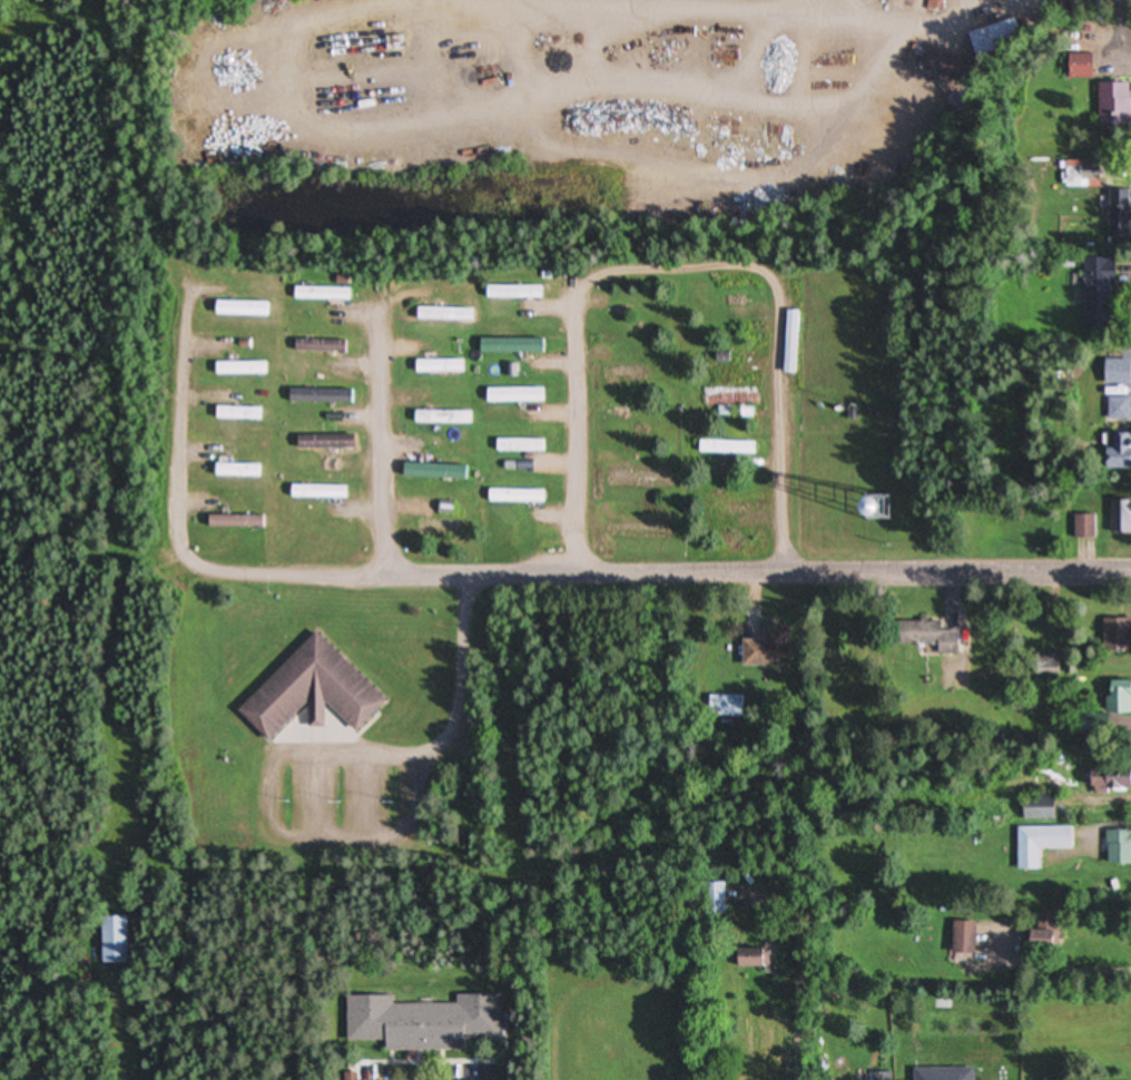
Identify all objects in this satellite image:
building: (993, 35)
building: (1079, 67)
building: (1113, 105)
building: (1083, 173)
road: (680, 273)
building: (1098, 284)
building: (322, 293)
building: (514, 293)
building: (791, 300)
building: (243, 308)
building: (445, 315)
building: (317, 346)
building: (513, 346)
building: (439, 366)
building: (790, 366)
building: (239, 369)
building: (622, 373)
building: (317, 396)
building: (514, 396)
building: (732, 396)
building: (1119, 409)
building: (238, 414)
building: (442, 418)
road: (195, 420)
road: (383, 439)
building: (322, 442)
building: (519, 445)
building: (726, 448)
building: (1118, 453)
building: (236, 471)
building: (441, 473)
building: (318, 492)
building: (515, 495)
water tower: (875, 509)
building: (1122, 517)
building: (232, 522)
building: (439, 526)
building: (1083, 527)
road: (662, 573)
building: (917, 632)
building: (1115, 635)
building: (763, 650)
building: (1045, 665)
building: (309, 691)
building: (1117, 697)
building: (727, 705)
road: (450, 748)
building: (1105, 779)
parking lot: (350, 804)
road: (312, 805)
road: (371, 805)
building: (1033, 808)
building: (1039, 845)
building: (1118, 847)
road: (343, 851)
building: (714, 900)
building: (1035, 937)
building: (962, 939)
building: (115, 941)
building: (748, 959)
road: (789, 1020)
building: (422, 1023)
building: (941, 1074)
building: (881, 1077)

